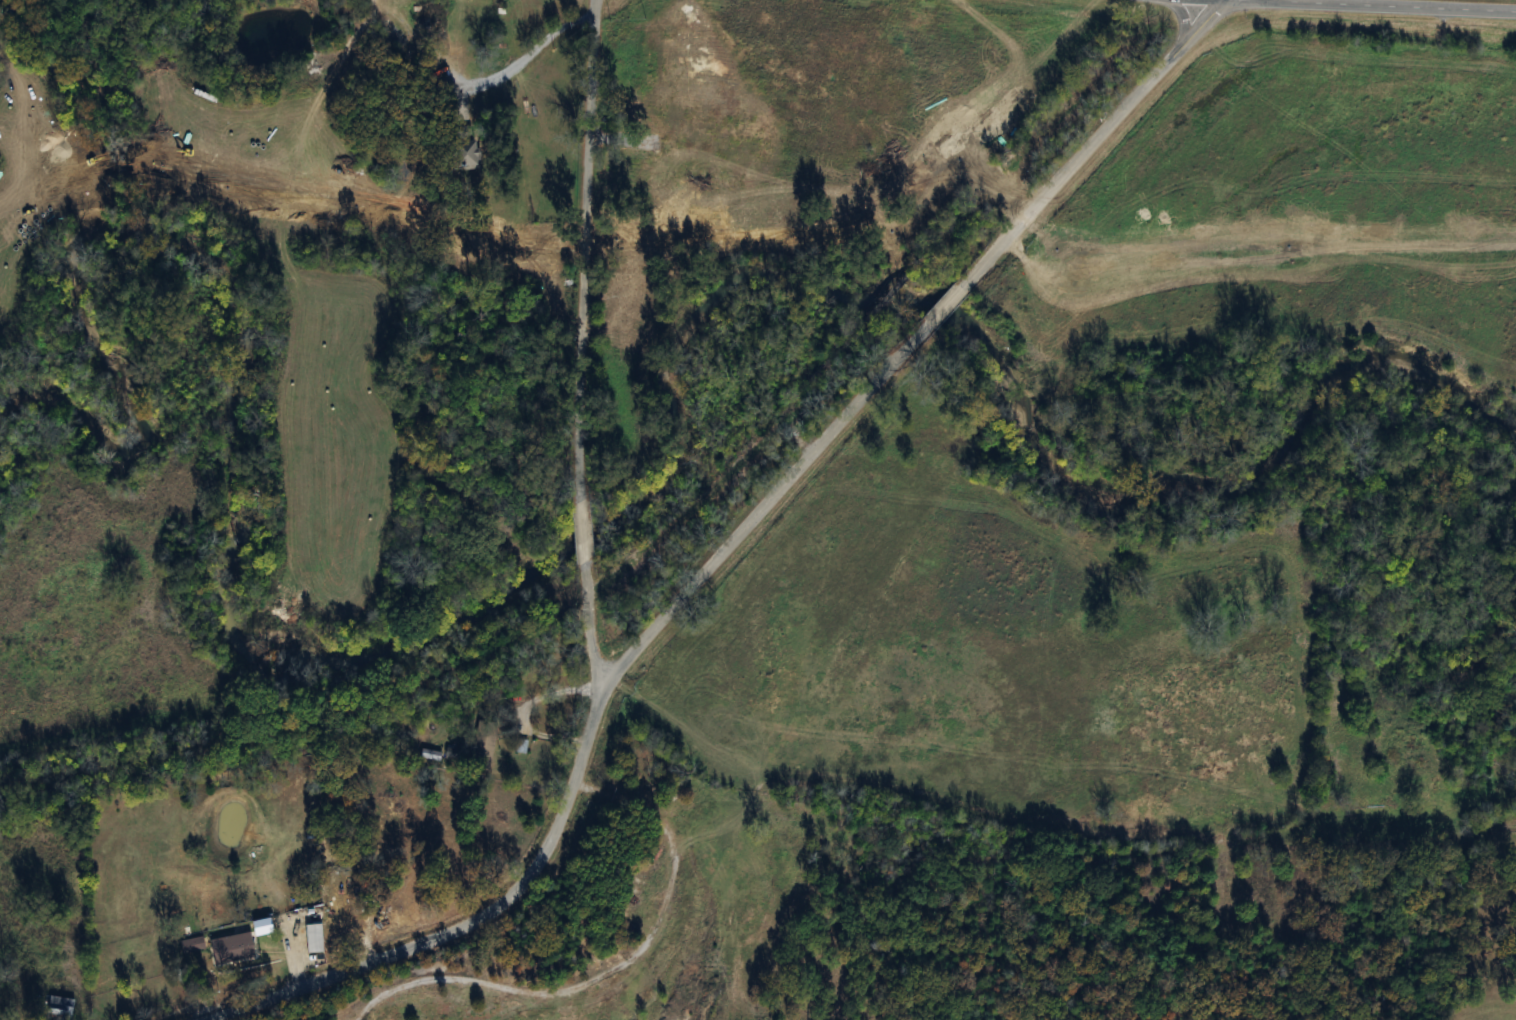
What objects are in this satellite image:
road: (1220, 0)
road: (1370, 6)
building: (767, 8)
building: (835, 65)
road: (474, 83)
road: (1090, 143)
building: (463, 154)
road: (583, 250)
road: (943, 308)
road: (581, 532)
road: (589, 627)
building: (498, 693)
road: (590, 721)
building: (519, 745)
building: (483, 747)
building: (313, 937)
building: (191, 945)
building: (230, 946)
road: (605, 968)
building: (59, 1008)

